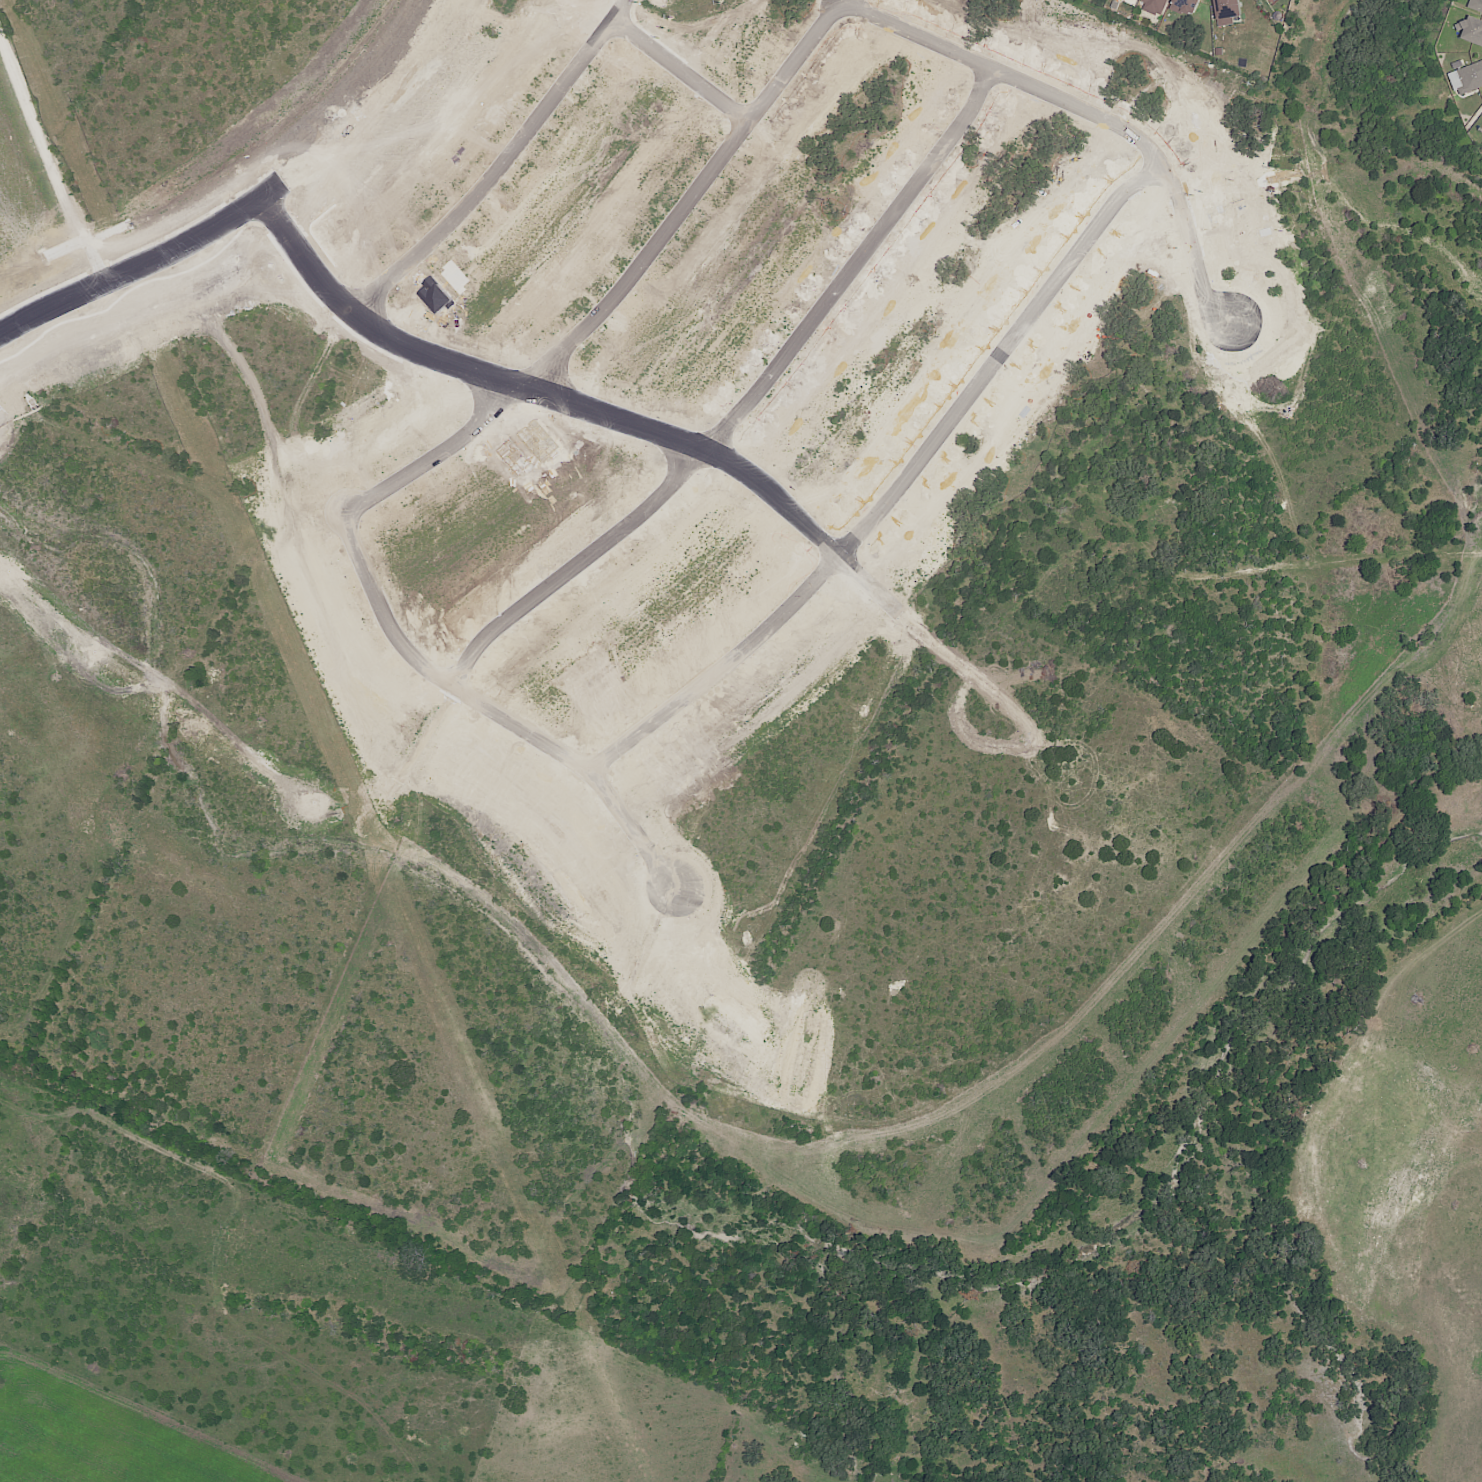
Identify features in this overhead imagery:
building: (1157, 3)
building: (1475, 4)
building: (1186, 5)
building: (1223, 8)
building: (1469, 28)
road: (692, 74)
building: (1468, 75)
road: (1100, 117)
road: (511, 172)
road: (135, 270)
road: (637, 291)
road: (548, 396)
road: (760, 409)
road: (911, 493)
road: (1403, 556)
road: (985, 654)
road: (973, 676)
road: (504, 717)
road: (1096, 790)
road: (104, 899)
road: (59, 942)
road: (145, 1106)

